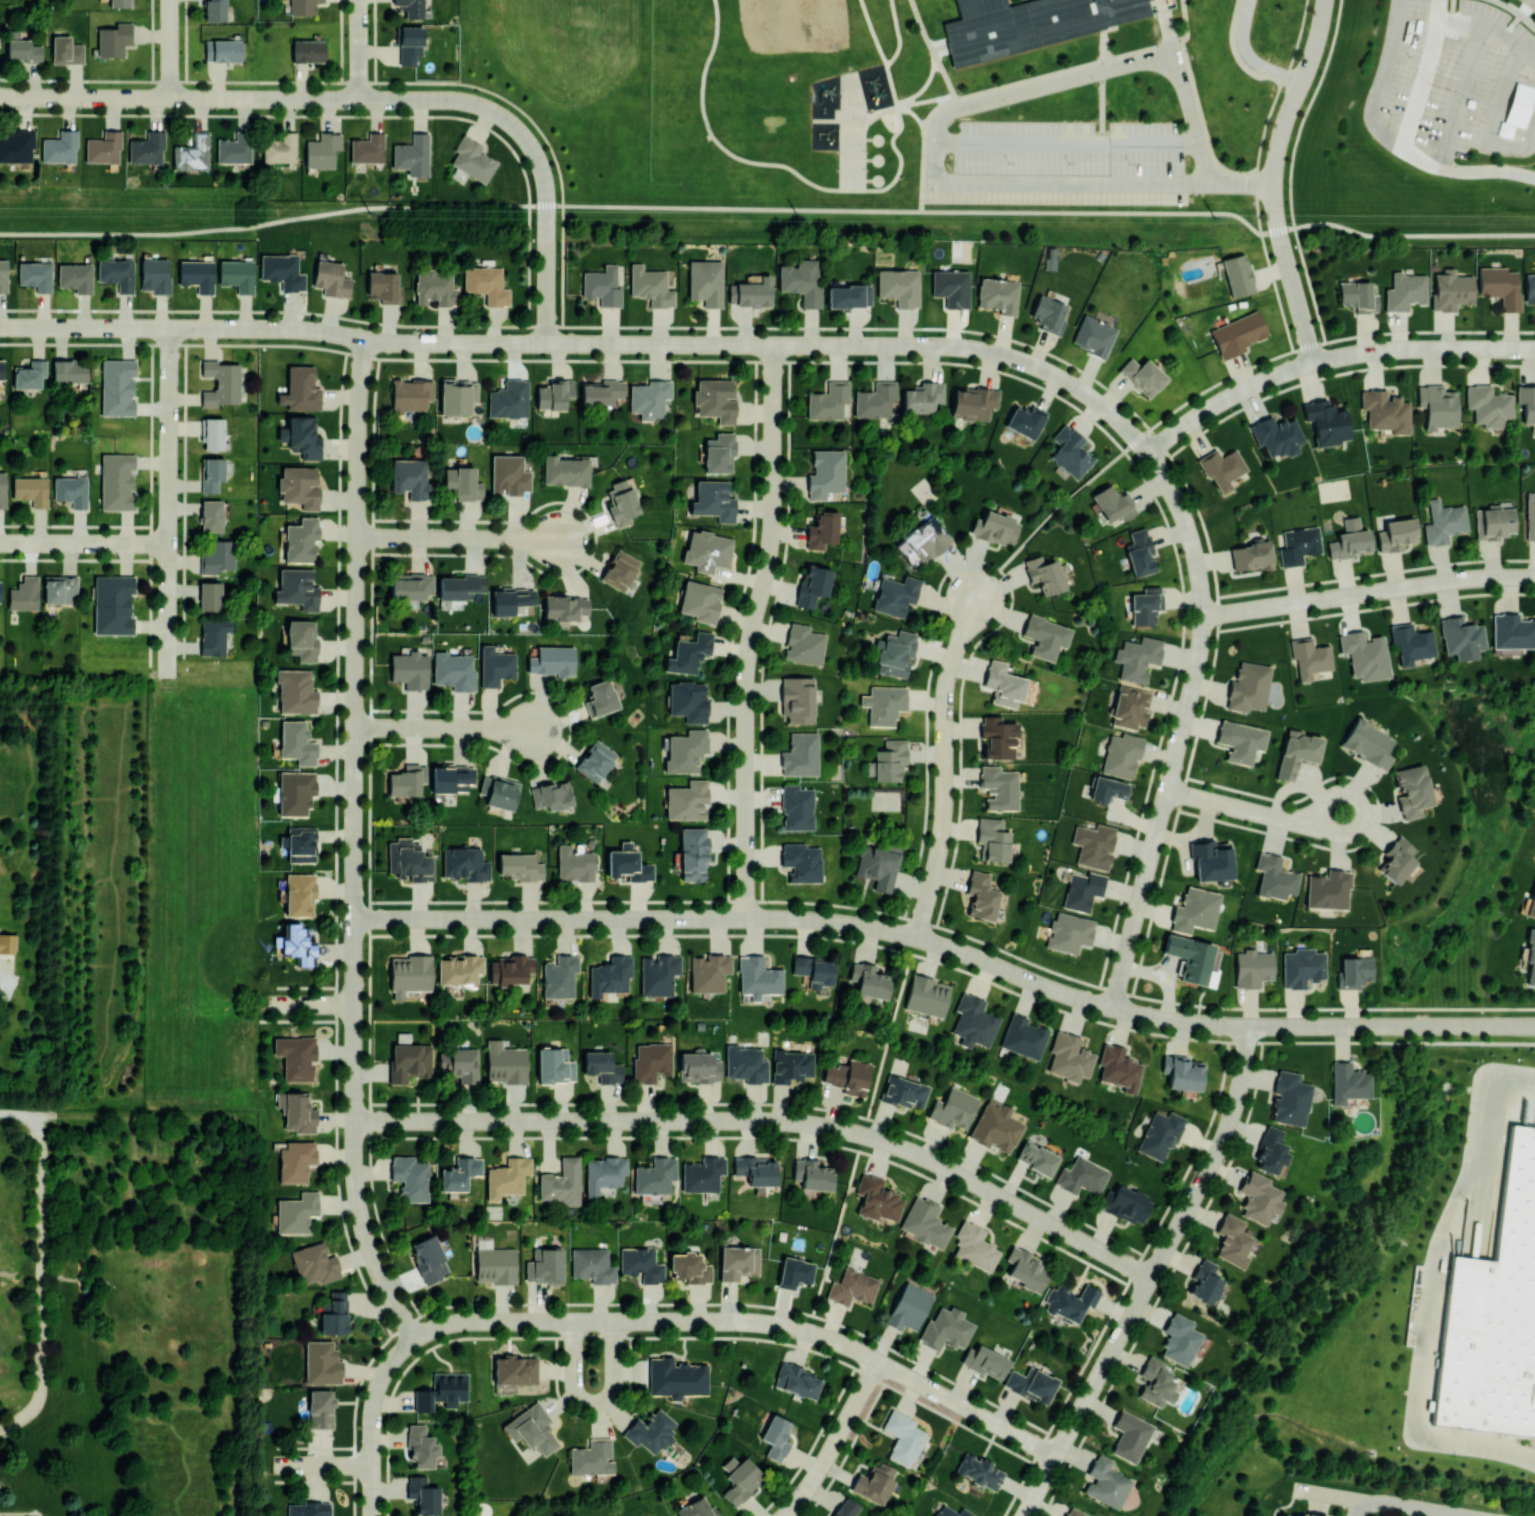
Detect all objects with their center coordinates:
building: (119, 3)
building: (302, 6)
building: (411, 7)
building: (215, 9)
road: (1460, 22)
building: (1027, 23)
park: (791, 25)
road: (1187, 26)
road: (898, 34)
building: (114, 39)
road: (1172, 40)
building: (408, 43)
road: (169, 49)
road: (358, 49)
building: (23, 50)
building: (66, 50)
building: (222, 50)
building: (307, 50)
road: (881, 53)
road: (1528, 54)
road: (1249, 57)
road: (1064, 69)
road: (1425, 76)
road: (1467, 77)
road: (1032, 88)
road: (923, 89)
park: (574, 98)
road: (373, 99)
road: (1102, 100)
road: (926, 101)
road: (945, 101)
road: (1191, 111)
road: (912, 113)
road: (1498, 121)
road: (1066, 142)
road: (1390, 142)
building: (17, 145)
building: (59, 147)
building: (103, 147)
building: (147, 147)
building: (234, 148)
building: (279, 148)
building: (367, 148)
building: (322, 150)
building: (192, 152)
building: (412, 155)
building: (472, 159)
park: (852, 160)
parking lot: (1068, 162)
road: (1203, 163)
road: (774, 164)
road: (1275, 179)
road: (1076, 183)
road: (1241, 185)
road: (771, 207)
power tower: (369, 213)
power tower: (798, 216)
power tower: (1214, 218)
building: (281, 271)
building: (116, 273)
building: (3, 275)
building: (35, 275)
building: (154, 275)
building: (196, 275)
building: (236, 275)
building: (1237, 275)
building: (75, 276)
building: (331, 278)
building: (801, 281)
building: (706, 282)
building: (486, 285)
building: (602, 286)
building: (650, 286)
building: (898, 286)
building: (1500, 286)
building: (384, 287)
building: (435, 287)
building: (951, 287)
building: (1529, 287)
building: (1451, 290)
building: (751, 292)
building: (1405, 292)
building: (997, 295)
building: (848, 296)
building: (1358, 296)
building: (1049, 314)
road: (458, 324)
road: (183, 328)
building: (1238, 333)
building: (1093, 335)
road: (773, 345)
road: (1329, 359)
building: (1, 369)
building: (69, 370)
road: (1234, 373)
building: (29, 374)
building: (1142, 376)
building: (220, 382)
building: (117, 386)
building: (300, 388)
building: (601, 392)
building: (411, 394)
building: (553, 394)
building: (457, 396)
building: (922, 397)
building: (649, 398)
building: (509, 399)
building: (715, 399)
building: (875, 400)
building: (828, 401)
building: (1526, 402)
building: (973, 403)
building: (1488, 405)
building: (1437, 406)
building: (1384, 411)
building: (1025, 421)
building: (1327, 422)
building: (212, 433)
building: (301, 436)
building: (1276, 436)
building: (1070, 452)
building: (719, 453)
building: (1222, 468)
building: (565, 470)
building: (826, 473)
building: (211, 474)
building: (508, 475)
building: (411, 479)
building: (117, 480)
building: (461, 484)
building: (299, 486)
building: (31, 489)
building: (2, 490)
building: (71, 490)
building: (713, 500)
road: (169, 502)
building: (621, 503)
building: (1113, 503)
building: (211, 515)
building: (1530, 516)
building: (1493, 522)
building: (1443, 523)
building: (995, 528)
building: (824, 529)
building: (1396, 534)
road: (461, 537)
building: (301, 540)
building: (1349, 540)
building: (922, 541)
road: (84, 543)
building: (1298, 545)
building: (707, 550)
building: (1139, 552)
building: (218, 556)
building: (1250, 556)
road: (986, 562)
building: (620, 570)
building: (1044, 574)
building: (812, 584)
building: (411, 586)
building: (459, 586)
building: (59, 588)
building: (297, 588)
road: (1368, 592)
building: (24, 593)
building: (0, 594)
building: (210, 595)
building: (896, 595)
road: (1217, 598)
building: (700, 601)
building: (113, 604)
building: (1145, 605)
building: (564, 607)
road: (752, 631)
building: (1512, 631)
building: (213, 636)
building: (1044, 636)
building: (1460, 638)
building: (301, 639)
building: (1411, 643)
building: (803, 644)
building: (689, 653)
building: (895, 653)
building: (1364, 655)
building: (1310, 657)
building: (1137, 658)
building: (552, 661)
building: (495, 666)
building: (409, 670)
building: (454, 671)
building: (1003, 684)
building: (1248, 687)
building: (295, 691)
building: (600, 698)
building: (797, 699)
building: (688, 701)
building: (884, 704)
building: (1130, 707)
road: (1182, 727)
road: (446, 728)
building: (997, 737)
building: (1240, 741)
building: (296, 742)
building: (1368, 742)
building: (686, 751)
building: (1297, 752)
building: (801, 755)
building: (1120, 755)
building: (888, 760)
building: (595, 761)
road: (944, 764)
building: (451, 778)
building: (407, 780)
building: (999, 788)
building: (1108, 789)
building: (1411, 790)
building: (295, 791)
building: (498, 792)
building: (551, 795)
building: (687, 800)
building: (797, 807)
road: (1256, 812)
building: (992, 839)
building: (299, 844)
road: (354, 845)
building: (1094, 845)
building: (693, 854)
building: (1211, 860)
building: (1396, 860)
building: (409, 861)
building: (802, 862)
building: (465, 864)
building: (574, 864)
building: (627, 864)
building: (877, 865)
building: (519, 866)
building: (1274, 876)
building: (1082, 890)
building: (1327, 890)
building: (298, 893)
building: (980, 896)
building: (1532, 904)
building: (1194, 910)
road: (740, 919)
building: (1069, 932)
building: (2, 944)
building: (296, 944)
building: (1189, 957)
building: (1530, 961)
building: (1302, 967)
building: (1252, 968)
building: (509, 969)
building: (459, 970)
building: (813, 970)
building: (708, 972)
building: (1353, 972)
building: (409, 974)
building: (658, 974)
building: (609, 975)
building: (559, 976)
building: (757, 977)
building: (868, 980)
road: (6, 985)
building: (926, 995)
road: (306, 1004)
building: (973, 1022)
road: (1244, 1025)
road: (1456, 1026)
building: (1023, 1036)
building: (295, 1056)
building: (1069, 1057)
building: (651, 1061)
building: (409, 1062)
building: (459, 1063)
building: (504, 1063)
building: (745, 1064)
building: (554, 1066)
building: (602, 1066)
building: (791, 1066)
building: (698, 1067)
building: (1118, 1068)
building: (1183, 1072)
building: (847, 1076)
building: (1348, 1082)
building: (904, 1092)
building: (1290, 1099)
building: (953, 1108)
road: (15, 1111)
building: (296, 1111)
road: (43, 1115)
road: (146, 1115)
road: (770, 1121)
building: (996, 1126)
building: (1159, 1135)
building: (1270, 1150)
building: (1036, 1158)
building: (295, 1160)
building: (756, 1170)
building: (459, 1174)
building: (603, 1174)
building: (702, 1174)
building: (812, 1174)
building: (655, 1175)
building: (1082, 1176)
building: (411, 1177)
building: (506, 1178)
building: (560, 1182)
building: (1259, 1197)
building: (877, 1199)
building: (1126, 1204)
building: (296, 1212)
building: (924, 1222)
building: (1232, 1241)
building: (974, 1247)
building: (429, 1258)
building: (738, 1262)
building: (314, 1264)
building: (641, 1264)
building: (495, 1265)
building: (592, 1265)
building: (544, 1266)
building: (689, 1268)
building: (1025, 1269)
building: (794, 1272)
road: (1151, 1276)
road: (41, 1281)
building: (1204, 1282)
building: (852, 1287)
road: (1432, 1291)
building: (1070, 1301)
building: (909, 1307)
building: (334, 1313)
building: (1494, 1315)
road: (749, 1322)
building: (946, 1329)
building: (1179, 1339)
road: (594, 1359)
building: (985, 1361)
building: (322, 1363)
building: (514, 1370)
building: (676, 1378)
building: (796, 1380)
building: (1155, 1382)
building: (1031, 1384)
building: (442, 1391)
building: (320, 1409)
road: (372, 1419)
building: (531, 1429)
building: (650, 1431)
building: (1129, 1436)
building: (776, 1437)
building: (902, 1437)
road: (835, 1441)
building: (421, 1446)
building: (592, 1458)
road: (319, 1465)
building: (979, 1471)
building: (739, 1479)
building: (873, 1482)
building: (1105, 1482)
building: (423, 1495)
road: (1410, 1506)
building: (846, 1507)
building: (308, 1509)
building: (696, 1509)
building: (951, 1512)
building: (1074, 1512)
building: (1291, 1514)
building: (1316, 1514)

